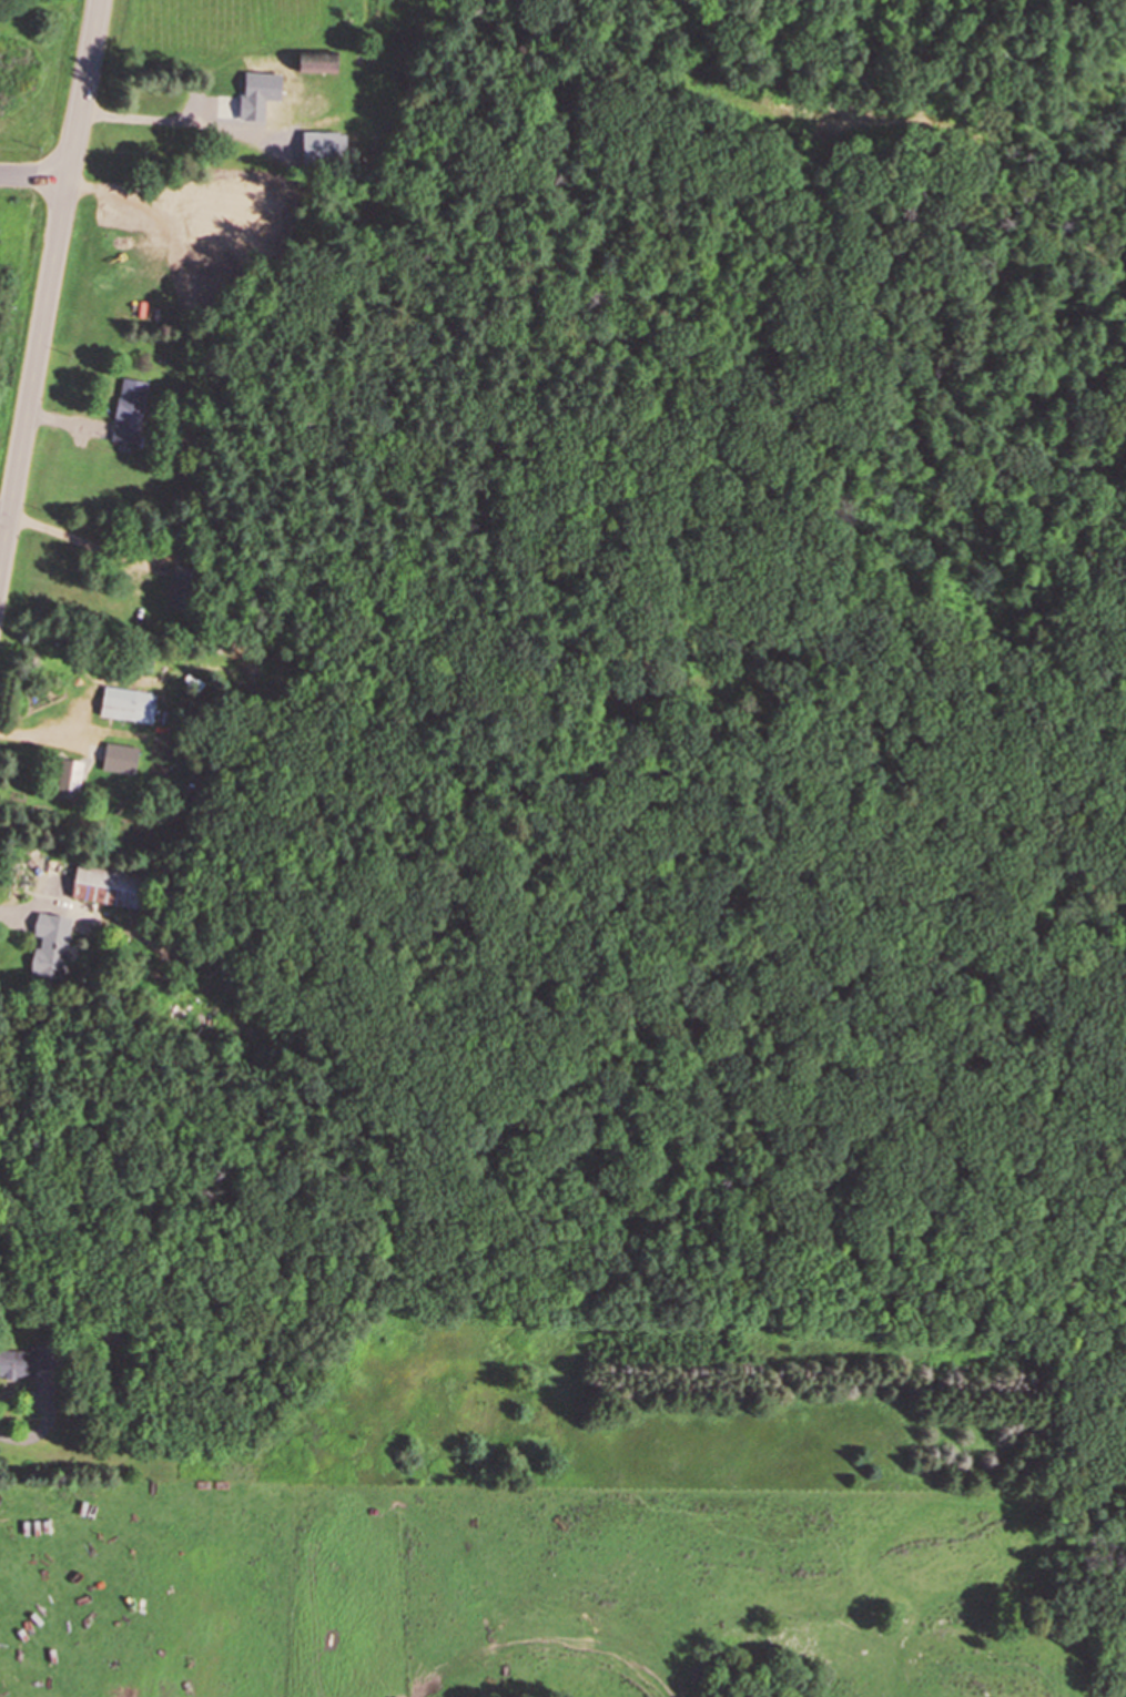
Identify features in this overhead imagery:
building: (315, 63)
building: (212, 105)
building: (325, 145)
road: (34, 175)
building: (204, 258)
road: (50, 291)
building: (129, 411)
building: (181, 591)
building: (130, 708)
building: (120, 759)
building: (70, 778)
building: (109, 886)
building: (51, 946)
building: (29, 1361)

